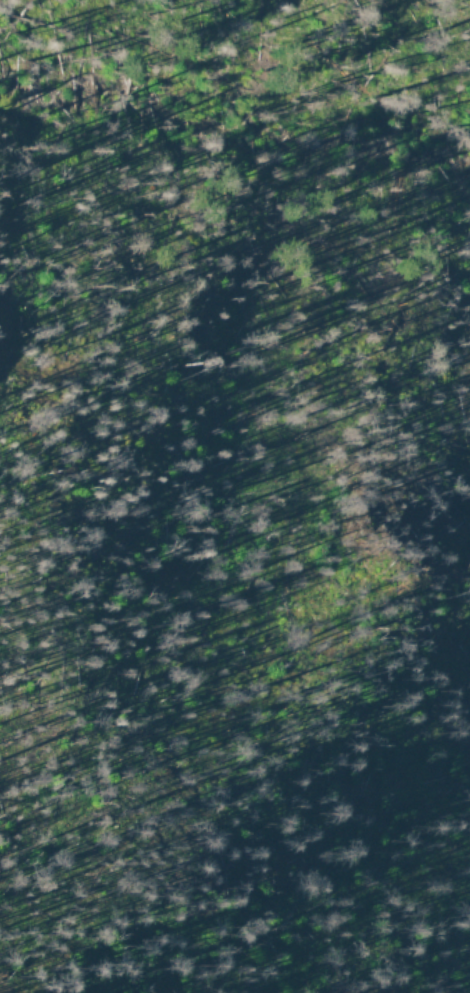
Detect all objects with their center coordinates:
road: (343, 732)

